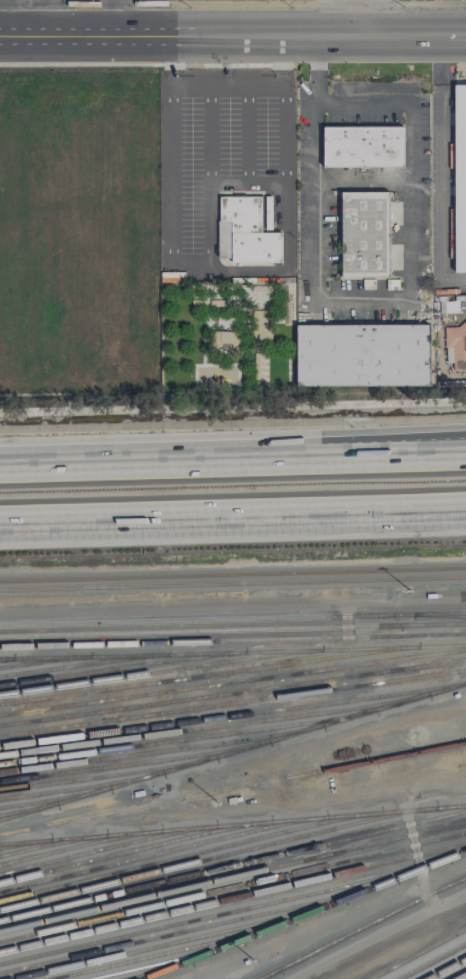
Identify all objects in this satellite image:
road: (19, 15)
road: (56, 15)
road: (111, 16)
road: (350, 16)
road: (232, 32)
building: (363, 146)
road: (440, 170)
road: (228, 177)
building: (460, 178)
road: (363, 179)
building: (64, 208)
building: (249, 230)
building: (365, 234)
road: (237, 271)
road: (373, 300)
building: (449, 306)
building: (230, 341)
building: (456, 345)
building: (363, 355)
road: (403, 446)
road: (403, 455)
road: (243, 459)
road: (72, 463)
road: (432, 508)
road: (432, 511)
road: (199, 516)
railway: (233, 574)
railway: (233, 583)
road: (233, 608)
railway: (442, 615)
railway: (233, 619)
railway: (233, 629)
railway: (233, 640)
railway: (233, 652)
railway: (7, 658)
railway: (45, 661)
railway: (84, 664)
railway: (122, 667)
railway: (162, 671)
railway: (210, 674)
railway: (233, 682)
railway: (233, 692)
railway: (233, 703)
railway: (233, 715)
railway: (214, 726)
railway: (188, 738)
railway: (161, 750)
railway: (232, 751)
railway: (134, 762)
railway: (108, 774)
railway: (81, 786)
railway: (233, 788)
railway: (55, 799)
railway: (28, 808)
railway: (217, 825)
railway: (25, 843)
railway: (52, 843)
railway: (80, 845)
railway: (108, 847)
railway: (135, 849)
railway: (163, 851)
railway: (232, 852)
railway: (190, 854)
railway: (233, 864)
railway: (233, 876)
railway: (233, 887)
railway: (233, 897)
railway: (224, 914)
railway: (304, 914)
railway: (198, 927)
railway: (362, 927)
railway: (181, 941)
railway: (174, 951)
railway: (417, 953)
railway: (166, 961)
railway: (432, 961)
railway: (446, 968)
railway: (159, 969)
railway: (268, 974)
railway: (462, 976)

